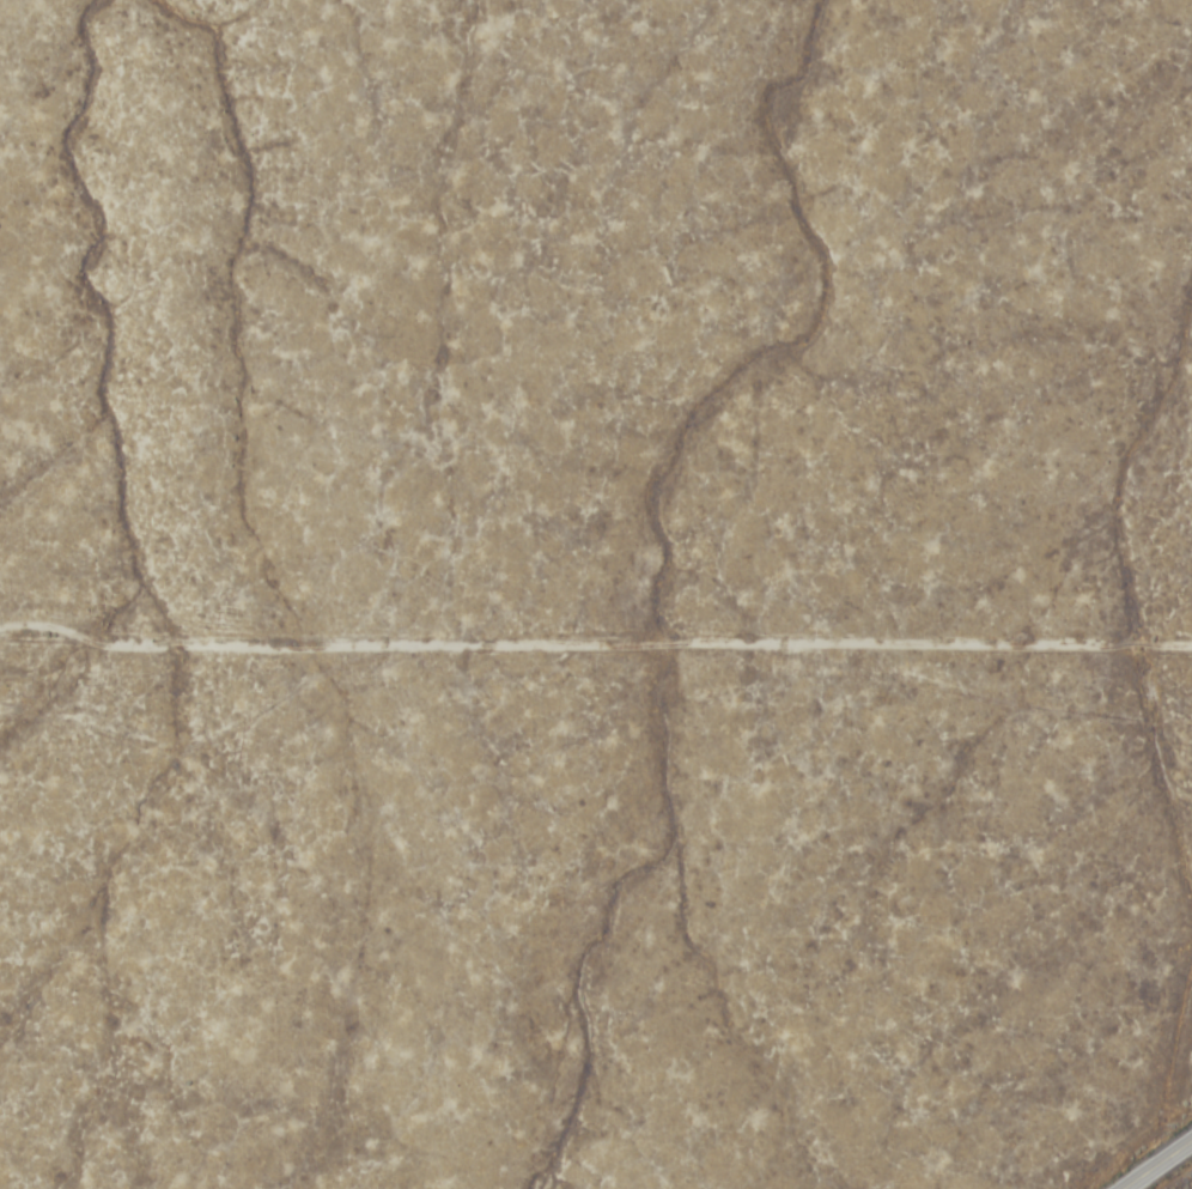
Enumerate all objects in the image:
road: (1169, 1175)

